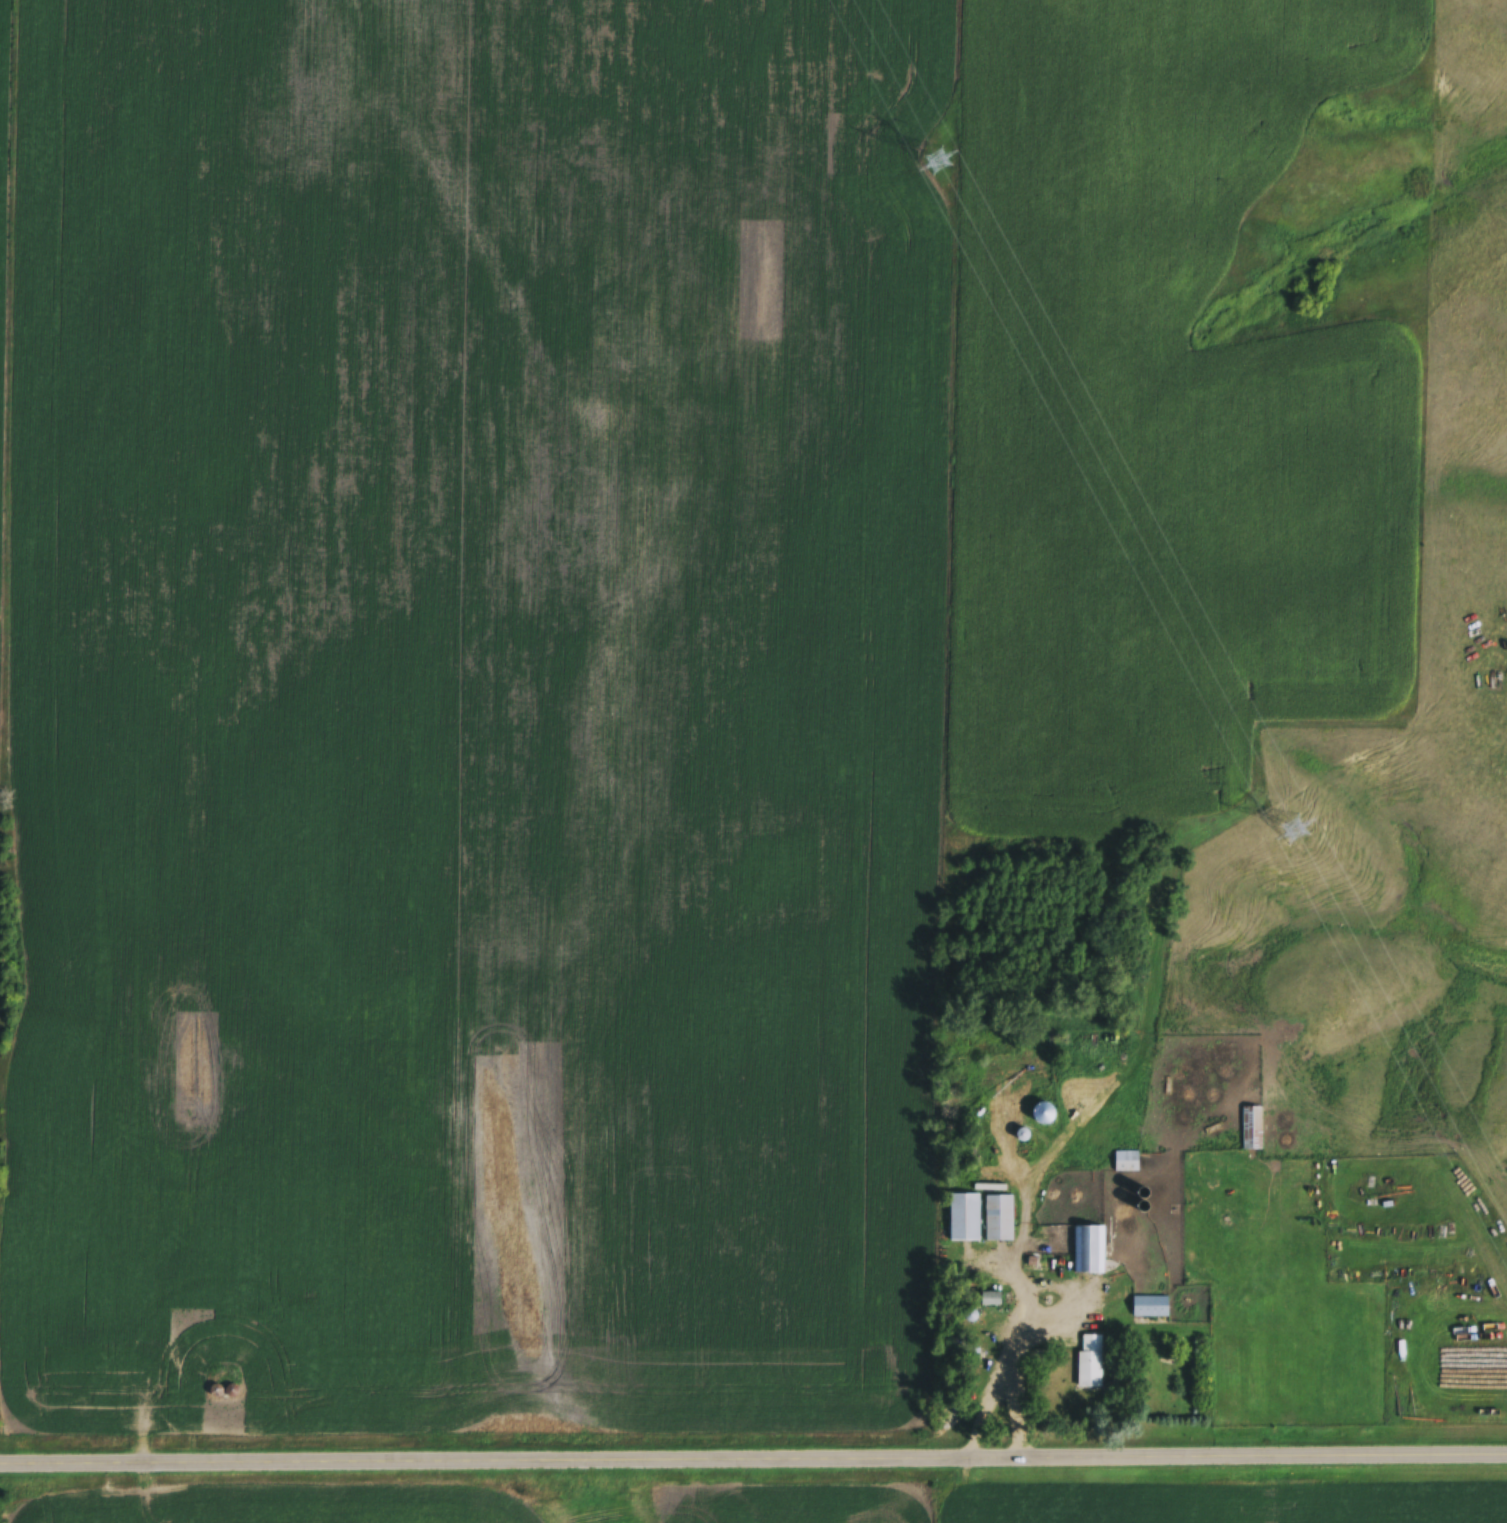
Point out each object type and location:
power tower: (938, 166)
power tower: (1292, 832)
building: (1252, 1130)
building: (965, 1220)
building: (1000, 1220)
building: (1089, 1252)
building: (992, 1302)
building: (1150, 1309)
building: (1091, 1364)
building: (232, 1393)
road: (753, 1464)

